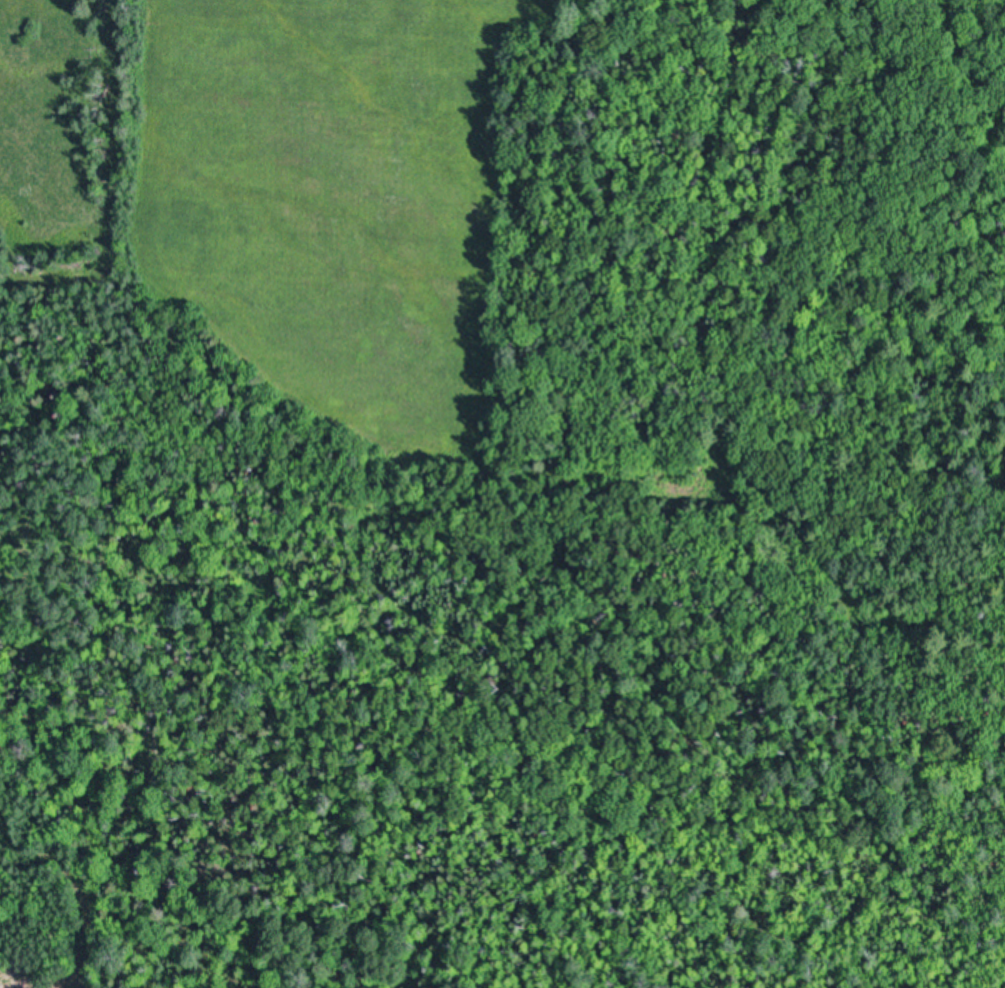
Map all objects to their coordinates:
building: (87, 981)

